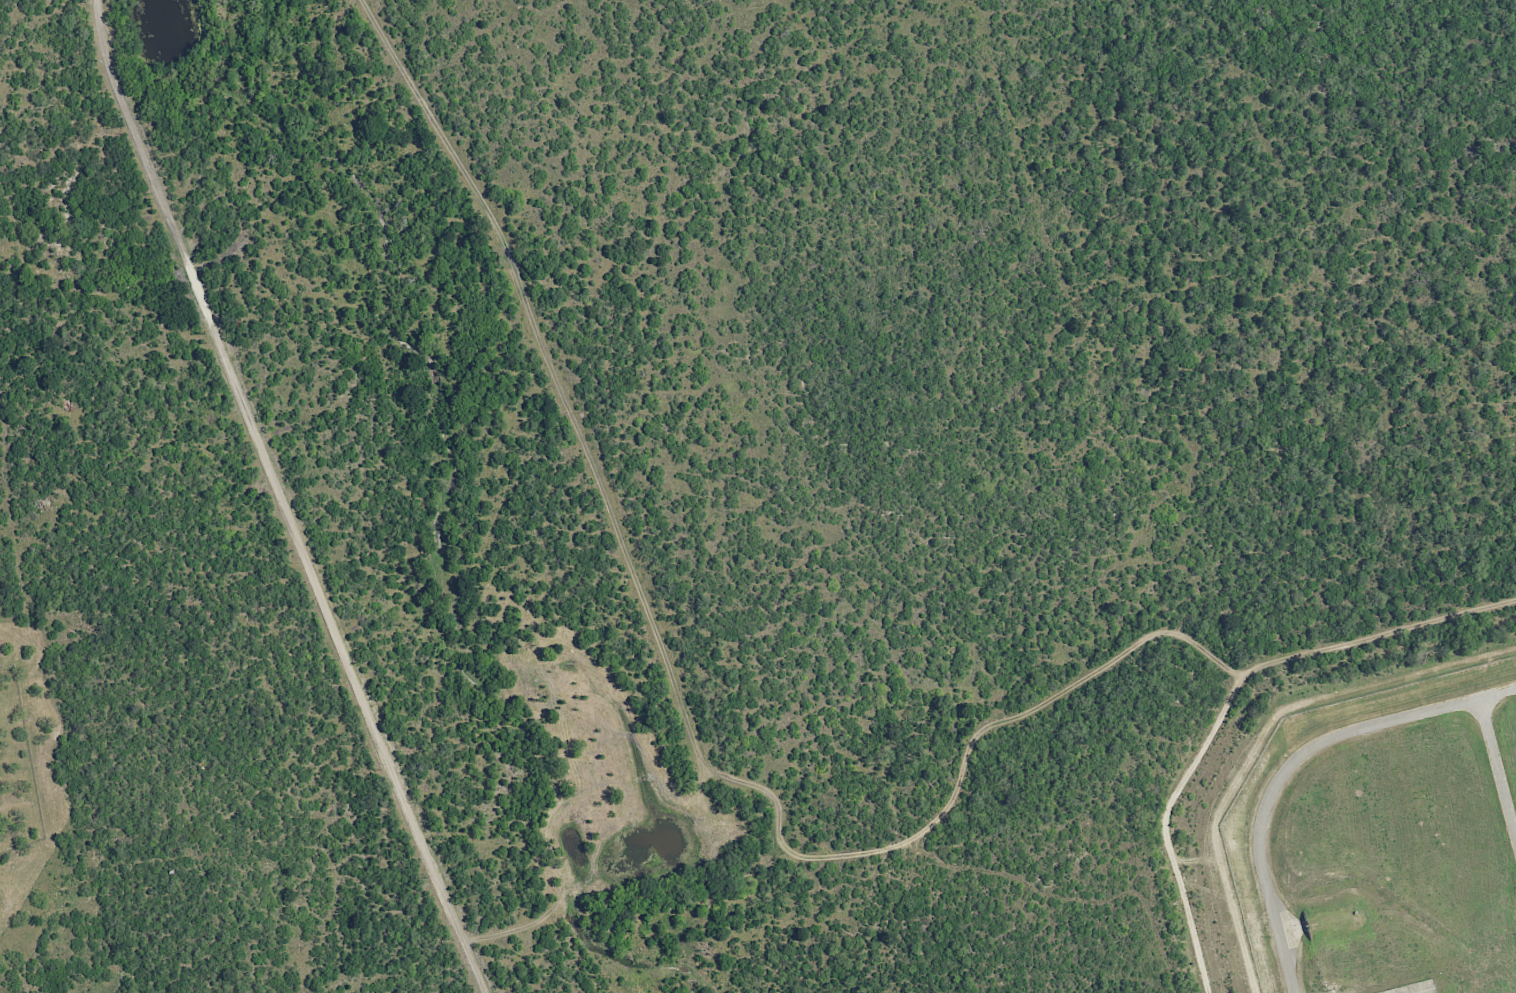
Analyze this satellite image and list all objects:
road: (582, 436)
road: (281, 499)
road: (1413, 716)
road: (1498, 767)
road: (901, 845)
road: (1261, 863)

